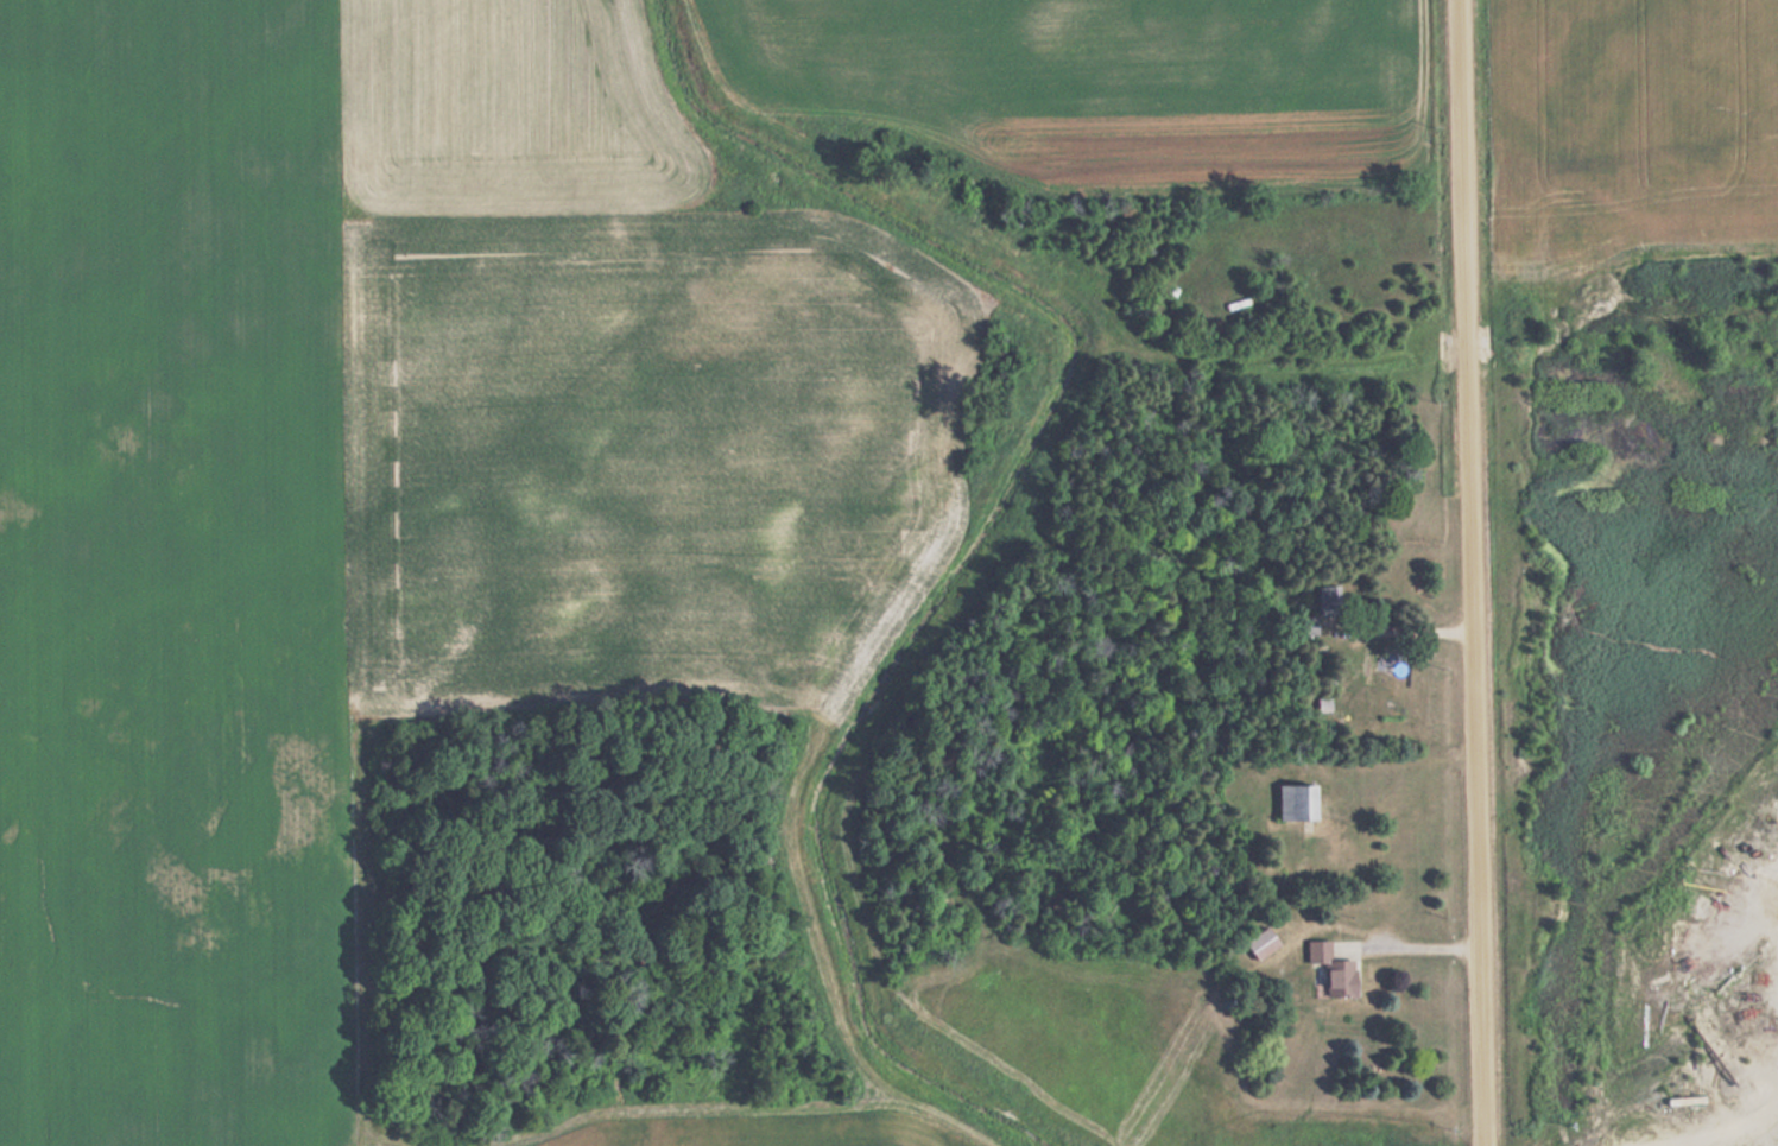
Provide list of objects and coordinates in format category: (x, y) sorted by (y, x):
road: (1469, 572)
building: (1302, 623)
building: (1284, 800)
building: (1257, 943)
building: (1327, 968)

